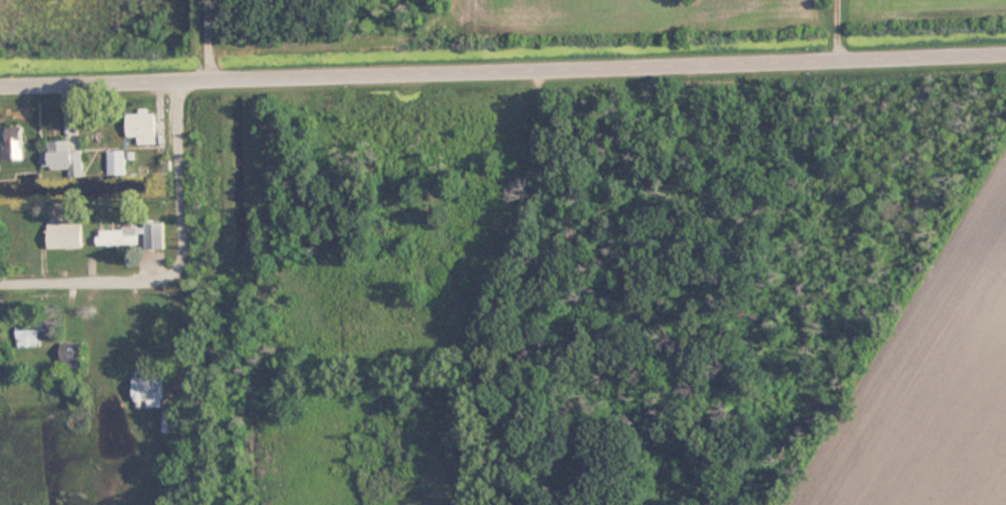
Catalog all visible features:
road: (843, 29)
road: (207, 39)
road: (503, 70)
building: (142, 127)
building: (12, 147)
building: (58, 155)
building: (65, 235)
building: (133, 236)
road: (179, 263)
road: (494, 290)
building: (34, 331)
building: (73, 355)
building: (147, 391)

